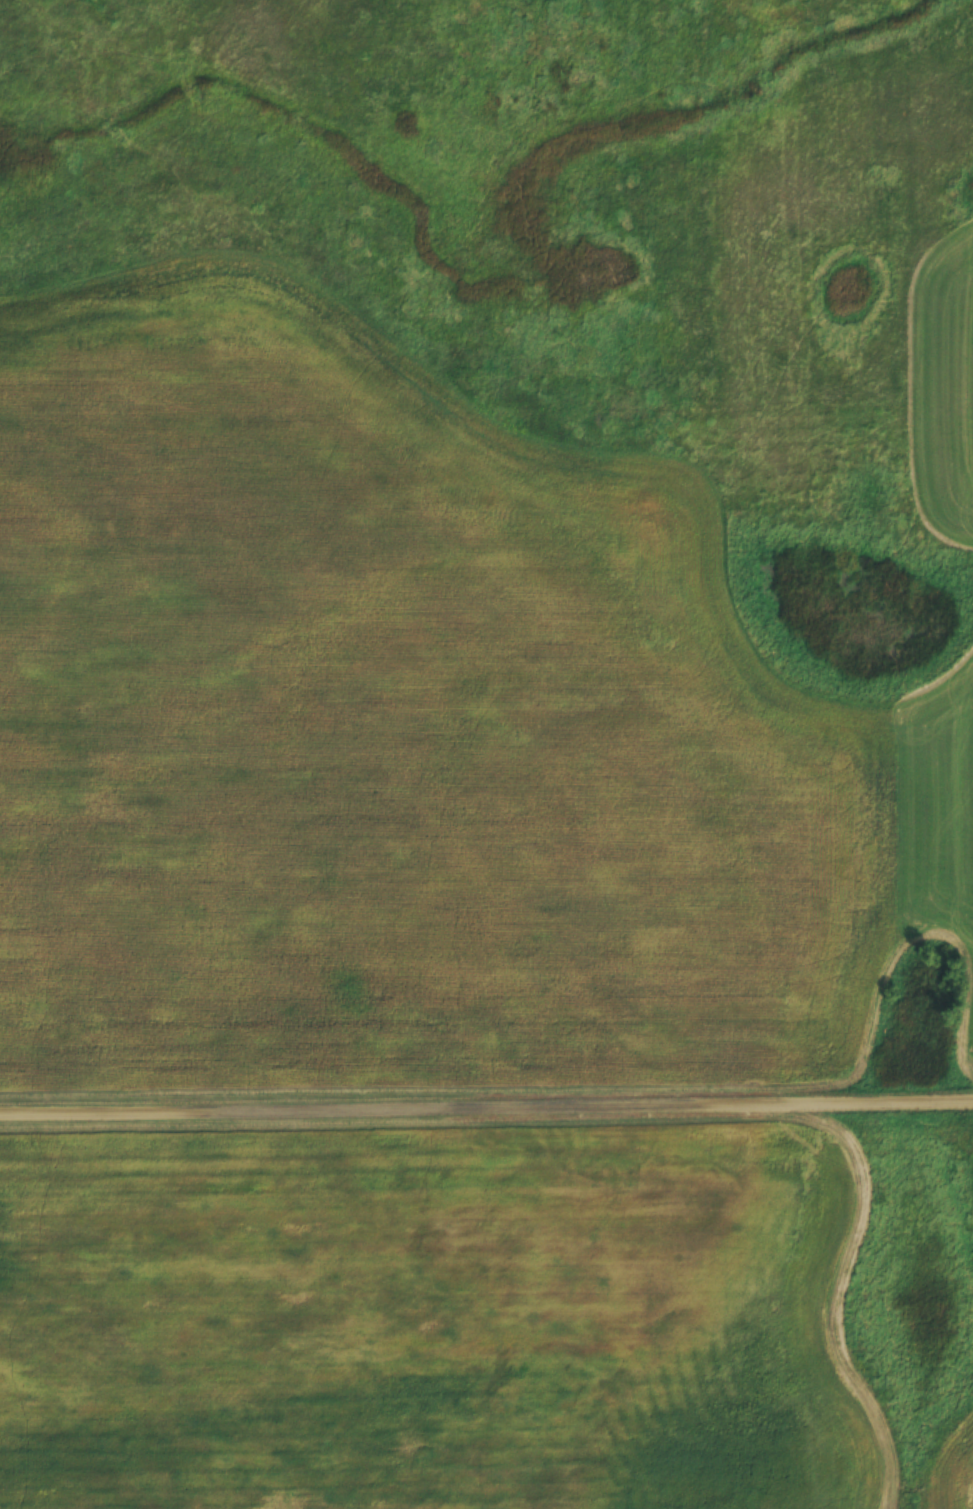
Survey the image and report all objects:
road: (486, 1105)

